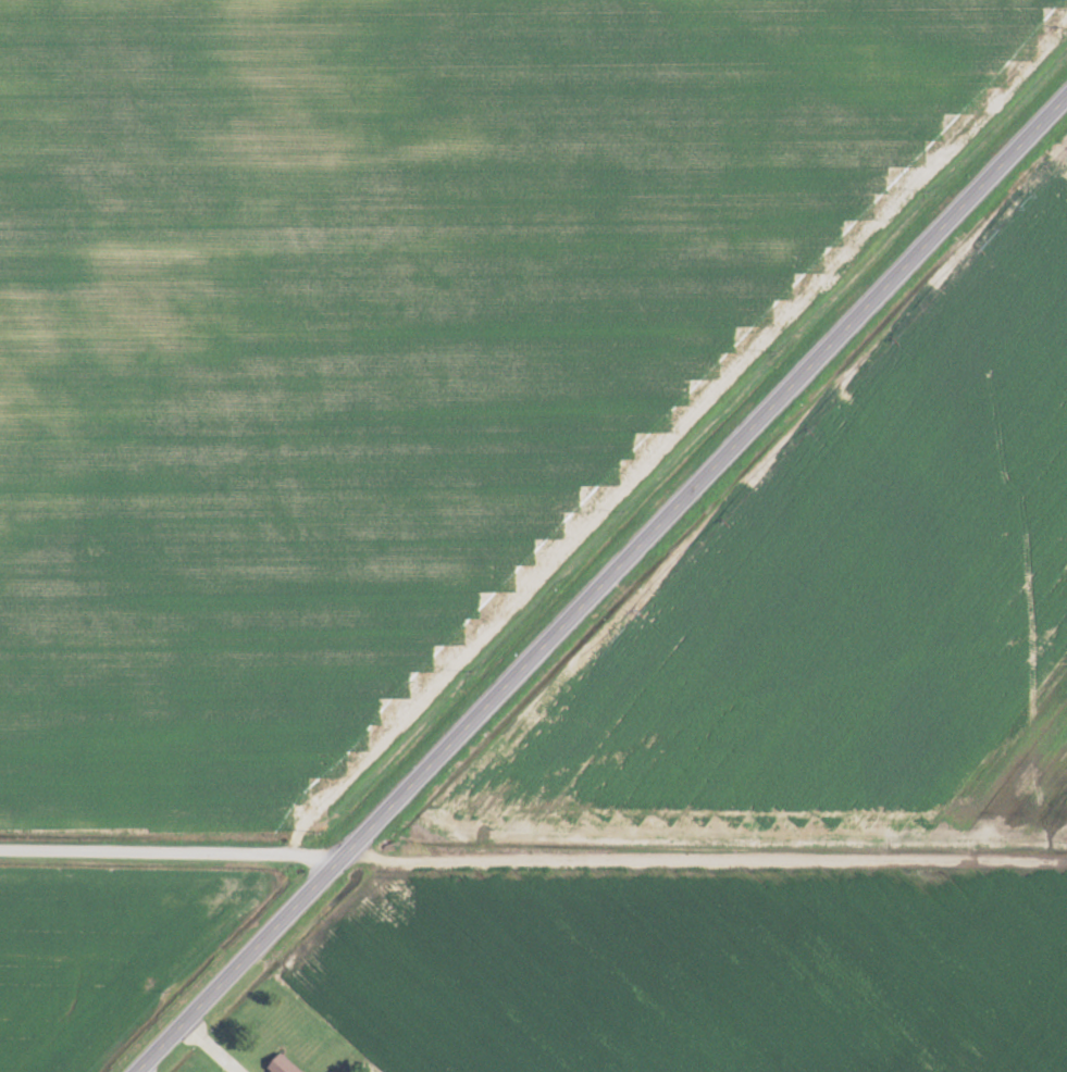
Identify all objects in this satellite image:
road: (603, 587)
road: (533, 860)
building: (280, 1065)

